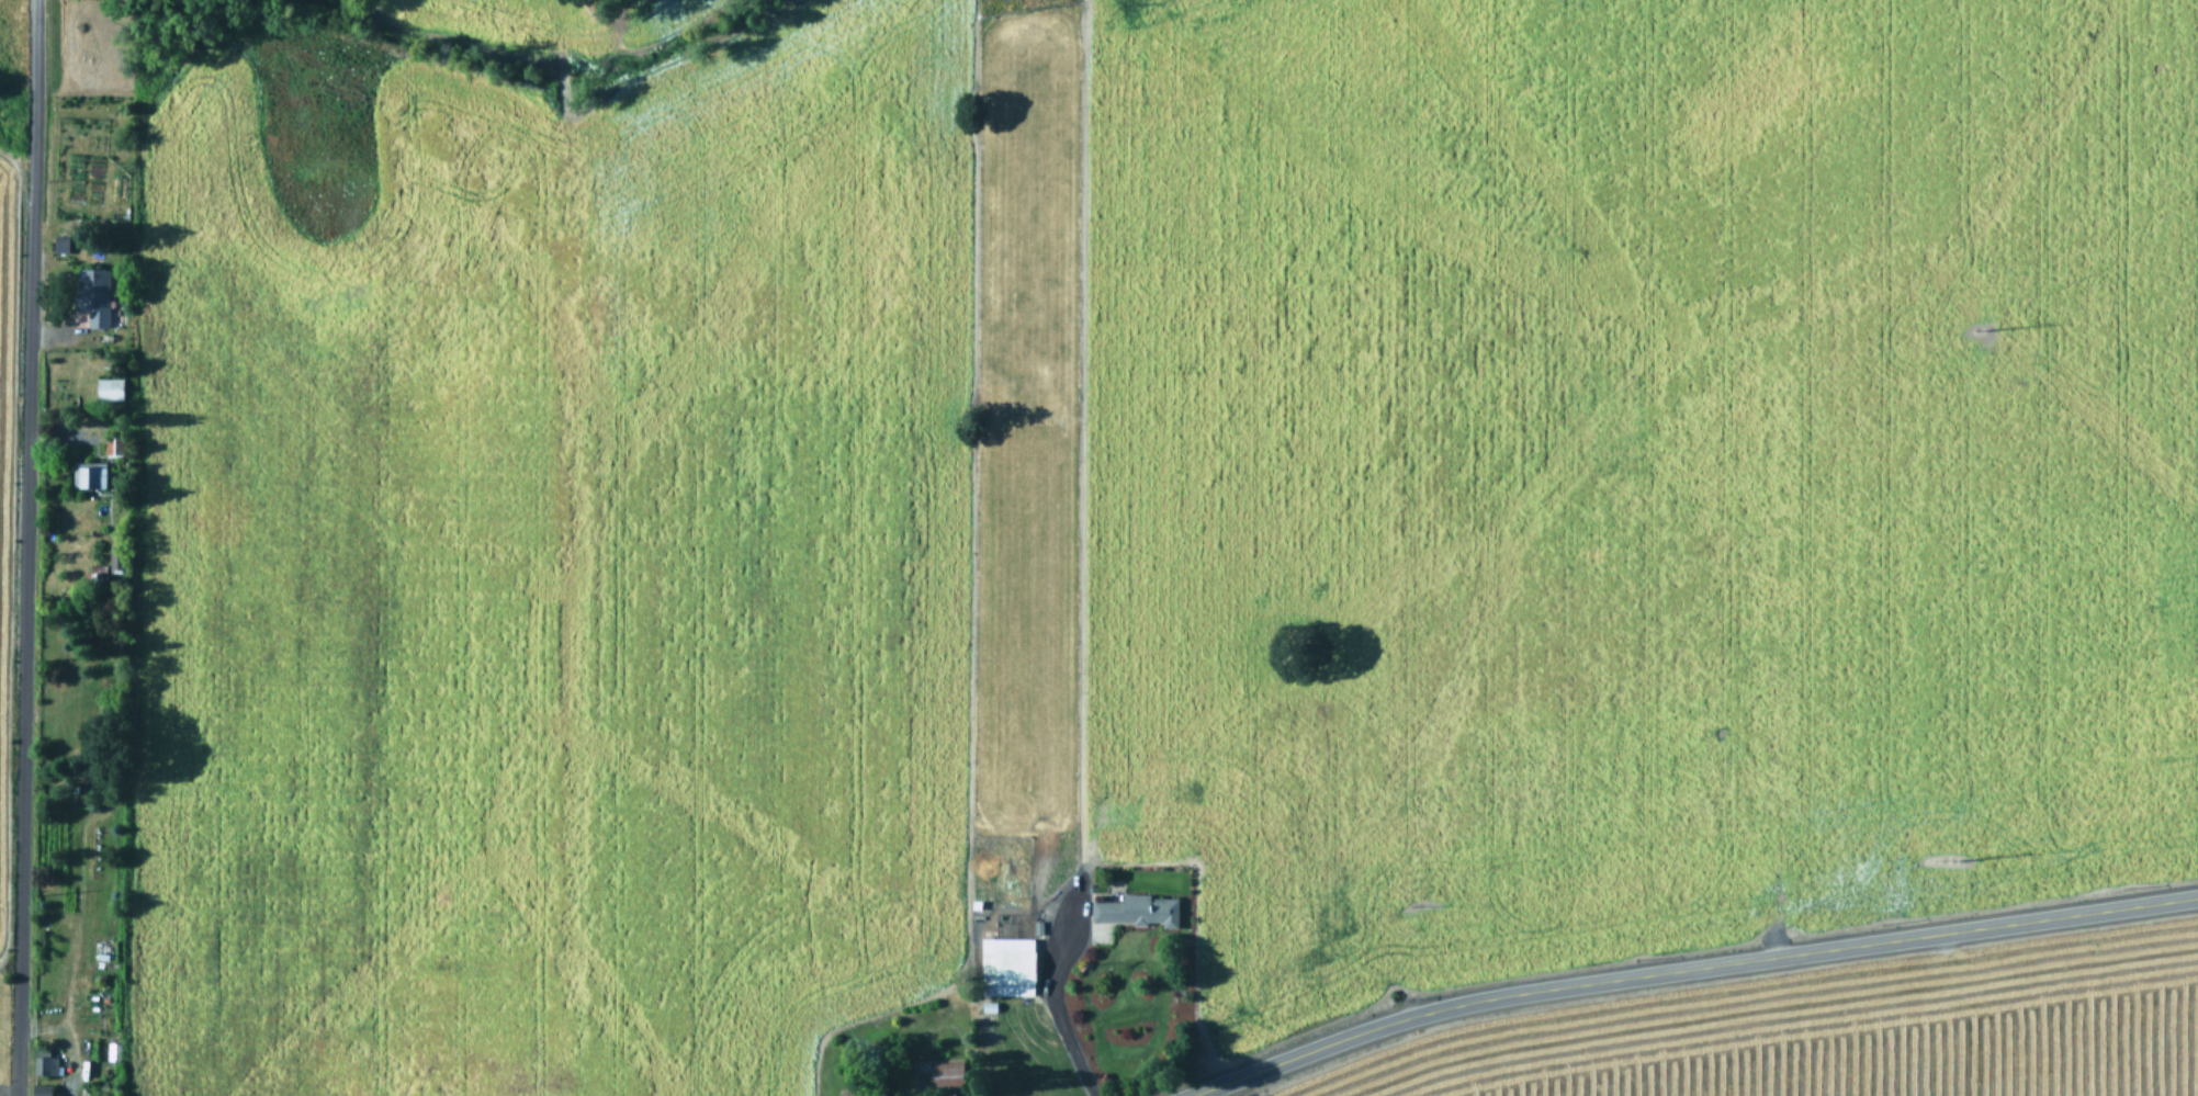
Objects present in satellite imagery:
building: (59, 241)
building: (91, 292)
building: (108, 386)
building: (112, 443)
building: (87, 472)
crop: (1171, 511)
road: (24, 547)
building: (97, 567)
building: (1137, 908)
building: (1006, 964)
road: (1684, 967)
road: (1050, 1004)
crop: (1842, 1038)
building: (44, 1062)
building: (945, 1066)
building: (40, 1088)
building: (888, 1095)

